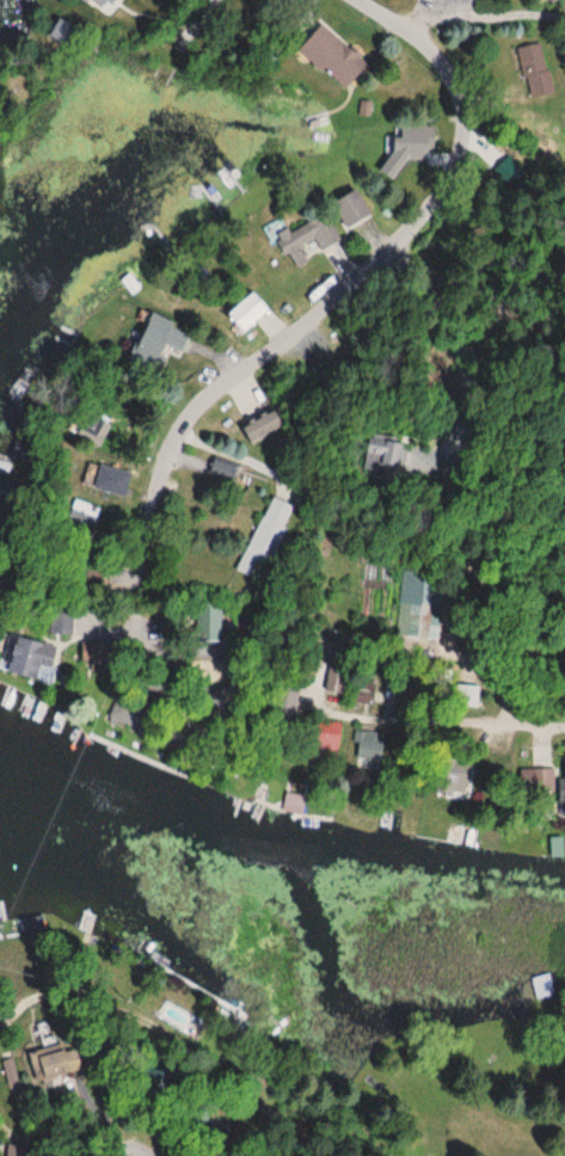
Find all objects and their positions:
building: (328, 56)
building: (534, 70)
building: (413, 137)
building: (349, 210)
building: (307, 239)
road: (356, 278)
building: (244, 313)
building: (155, 343)
building: (257, 429)
building: (376, 456)
building: (111, 481)
building: (262, 540)
building: (416, 620)
building: (59, 621)
building: (205, 623)
building: (94, 653)
building: (24, 658)
building: (333, 678)
building: (362, 690)
building: (465, 695)
road: (377, 713)
building: (124, 715)
road: (532, 721)
building: (321, 742)
building: (367, 746)
building: (455, 771)
building: (535, 781)
building: (561, 786)
building: (294, 805)
building: (541, 986)
road: (207, 1041)
building: (53, 1062)
road: (142, 1150)

